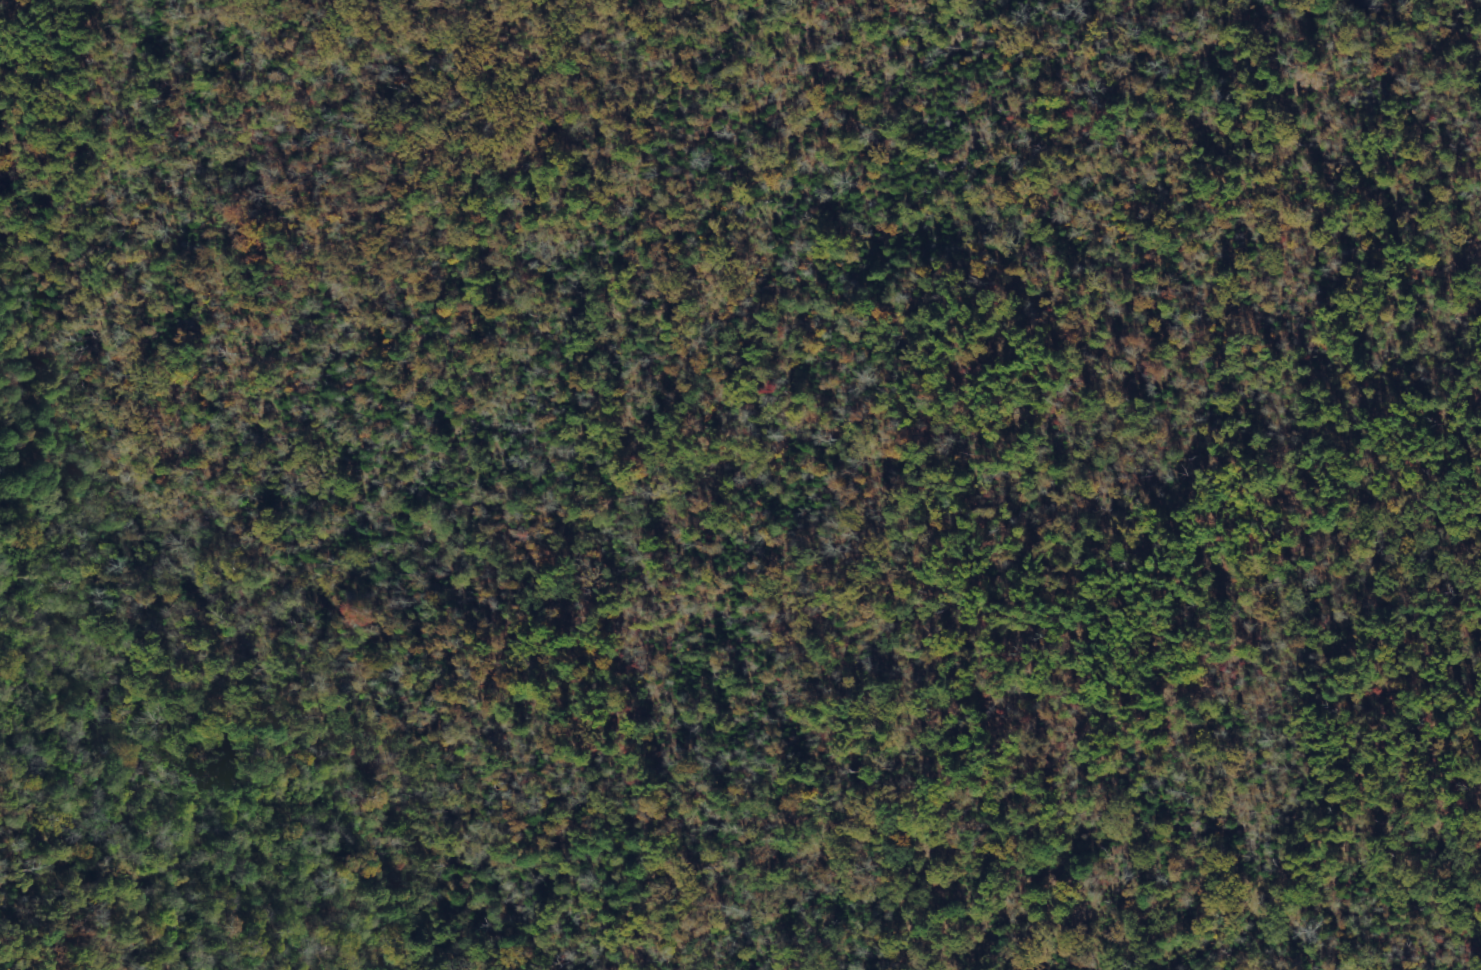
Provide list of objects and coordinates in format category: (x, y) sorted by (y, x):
road: (1261, 496)

